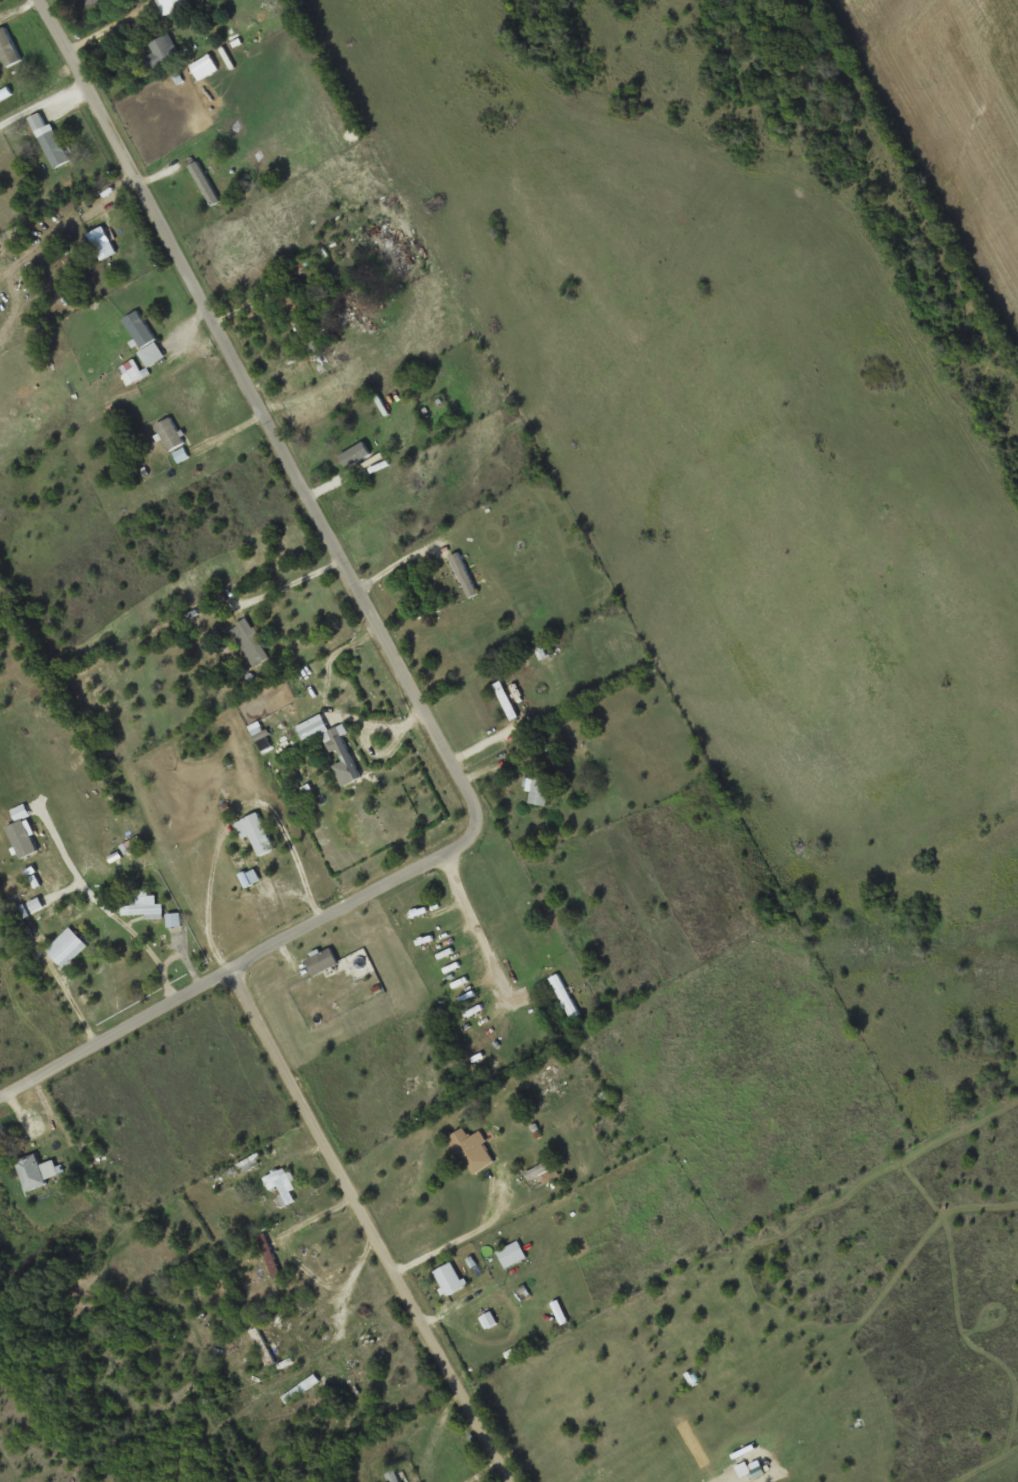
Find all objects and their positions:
building: (171, 5)
building: (8, 48)
building: (160, 50)
building: (54, 148)
building: (204, 183)
building: (102, 243)
building: (395, 250)
building: (298, 311)
building: (353, 311)
building: (145, 337)
building: (134, 370)
building: (171, 433)
road: (277, 433)
building: (361, 457)
building: (463, 574)
building: (252, 642)
building: (543, 651)
building: (506, 700)
building: (259, 733)
building: (347, 758)
building: (541, 787)
building: (147, 793)
road: (231, 814)
building: (381, 831)
building: (257, 833)
building: (250, 877)
building: (144, 906)
road: (481, 921)
building: (67, 946)
road: (147, 950)
road: (185, 960)
building: (323, 960)
road: (221, 976)
building: (564, 996)
road: (71, 1000)
building: (544, 1086)
building: (473, 1150)
building: (37, 1170)
building: (542, 1173)
building: (282, 1185)
road: (365, 1228)
road: (461, 1235)
building: (509, 1253)
building: (269, 1255)
building: (469, 1260)
building: (446, 1278)
building: (487, 1318)
building: (262, 1346)
building: (360, 1382)
building: (279, 1403)
building: (391, 1473)
building: (606, 1480)

